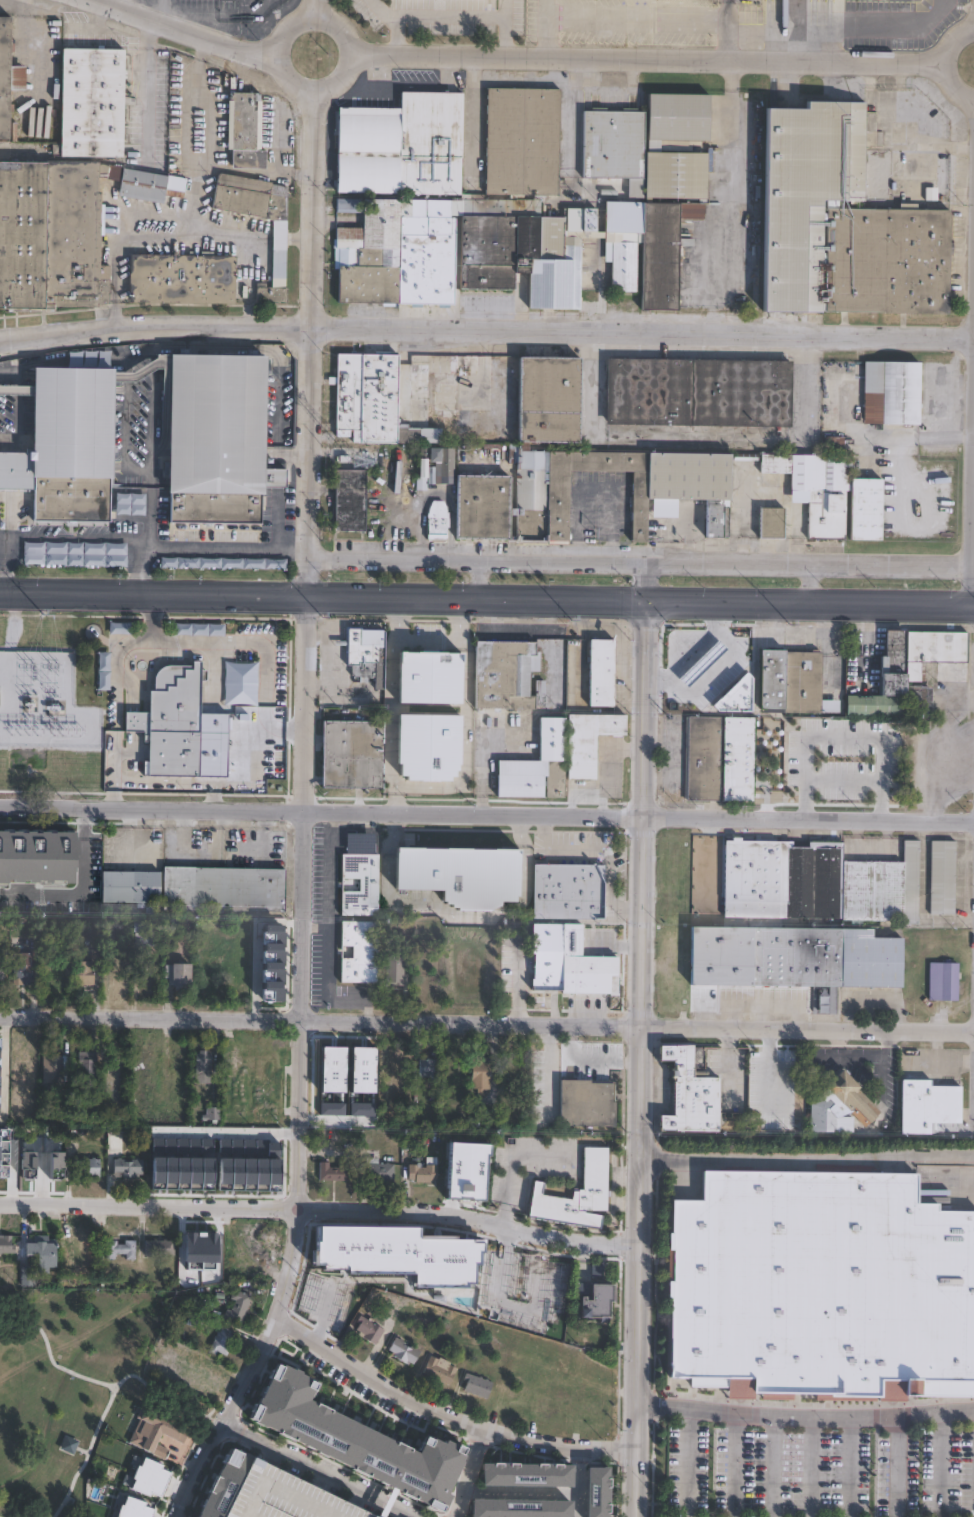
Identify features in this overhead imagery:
road: (122, 4)
road: (310, 7)
road: (724, 14)
road: (308, 15)
road: (634, 18)
road: (445, 19)
road: (183, 26)
road: (839, 26)
road: (544, 35)
road: (394, 37)
road: (505, 37)
road: (723, 43)
road: (646, 58)
road: (942, 62)
building: (7, 76)
road: (146, 87)
building: (93, 103)
building: (676, 115)
road: (471, 120)
road: (731, 123)
road: (209, 126)
building: (247, 131)
building: (523, 141)
building: (403, 146)
building: (611, 147)
road: (21, 154)
building: (674, 174)
building: (808, 193)
building: (607, 194)
road: (191, 209)
building: (60, 229)
building: (276, 250)
building: (567, 251)
building: (392, 254)
road: (733, 261)
building: (888, 261)
building: (178, 278)
road: (598, 293)
road: (486, 333)
road: (313, 342)
building: (435, 390)
building: (699, 392)
building: (892, 392)
building: (401, 394)
building: (365, 395)
road: (583, 398)
building: (213, 436)
road: (753, 440)
building: (69, 441)
building: (834, 443)
road: (294, 455)
building: (434, 466)
building: (15, 469)
building: (574, 469)
building: (817, 488)
road: (148, 489)
road: (595, 489)
road: (434, 495)
building: (351, 500)
building: (129, 504)
building: (867, 509)
building: (773, 523)
building: (435, 526)
road: (73, 537)
road: (227, 551)
building: (74, 553)
road: (641, 560)
building: (222, 562)
road: (1, 563)
road: (475, 578)
road: (647, 581)
road: (809, 583)
road: (273, 593)
road: (597, 600)
road: (697, 601)
road: (860, 604)
road: (466, 616)
building: (119, 627)
building: (198, 628)
road: (429, 635)
road: (166, 643)
road: (647, 654)
building: (363, 655)
road: (712, 669)
building: (102, 670)
building: (914, 671)
building: (602, 672)
building: (508, 676)
building: (431, 678)
building: (791, 680)
building: (239, 682)
road: (389, 692)
power substation: (43, 701)
building: (169, 721)
building: (870, 733)
road: (842, 737)
building: (589, 740)
road: (467, 742)
building: (433, 746)
building: (247, 748)
building: (349, 752)
building: (704, 758)
building: (739, 759)
road: (605, 765)
building: (537, 766)
building: (878, 779)
road: (161, 780)
road: (842, 783)
road: (395, 800)
road: (487, 814)
road: (257, 830)
road: (559, 844)
building: (456, 872)
road: (608, 878)
building: (943, 878)
building: (361, 885)
building: (132, 887)
building: (225, 889)
building: (570, 891)
road: (82, 892)
road: (626, 909)
building: (804, 915)
building: (174, 925)
road: (316, 927)
building: (144, 932)
road: (326, 932)
building: (672, 950)
building: (360, 952)
building: (547, 955)
building: (586, 959)
building: (2, 969)
building: (25, 969)
building: (121, 970)
building: (393, 970)
building: (53, 971)
building: (85, 973)
building: (178, 976)
building: (945, 981)
building: (673, 983)
building: (820, 1003)
road: (487, 1015)
road: (593, 1051)
road: (553, 1060)
building: (151, 1062)
road: (767, 1064)
building: (204, 1066)
building: (52, 1068)
road: (302, 1068)
building: (430, 1068)
building: (88, 1069)
building: (482, 1073)
building: (541, 1073)
building: (395, 1076)
building: (265, 1079)
building: (360, 1088)
building: (240, 1090)
building: (690, 1093)
building: (588, 1102)
building: (840, 1103)
road: (642, 1104)
building: (927, 1104)
building: (214, 1113)
road: (515, 1161)
road: (807, 1162)
building: (7, 1165)
building: (45, 1166)
building: (87, 1167)
building: (129, 1167)
building: (378, 1170)
building: (336, 1171)
building: (425, 1171)
building: (465, 1177)
building: (574, 1193)
road: (321, 1206)
building: (7, 1245)
building: (78, 1245)
building: (196, 1246)
building: (160, 1248)
building: (120, 1249)
building: (423, 1252)
building: (44, 1253)
building: (247, 1254)
building: (385, 1254)
building: (337, 1255)
building: (28, 1276)
building: (550, 1278)
building: (818, 1287)
building: (330, 1299)
building: (596, 1304)
building: (238, 1306)
building: (395, 1308)
building: (370, 1330)
building: (224, 1341)
building: (404, 1351)
road: (50, 1355)
building: (439, 1370)
building: (200, 1374)
park: (74, 1382)
building: (478, 1385)
road: (109, 1393)
road: (450, 1409)
building: (608, 1409)
road: (805, 1416)
building: (169, 1439)
building: (351, 1441)
road: (686, 1461)
road: (733, 1464)
road: (937, 1464)
road: (771, 1466)
road: (894, 1466)
road: (809, 1467)
road: (848, 1467)
road: (470, 1470)
road: (320, 1472)
building: (523, 1473)
building: (144, 1477)
building: (221, 1483)
road: (255, 1483)
building: (594, 1490)
road: (544, 1494)
building: (280, 1496)
parking garage: (280, 1496)
building: (516, 1508)
building: (127, 1509)
road: (636, 1509)

